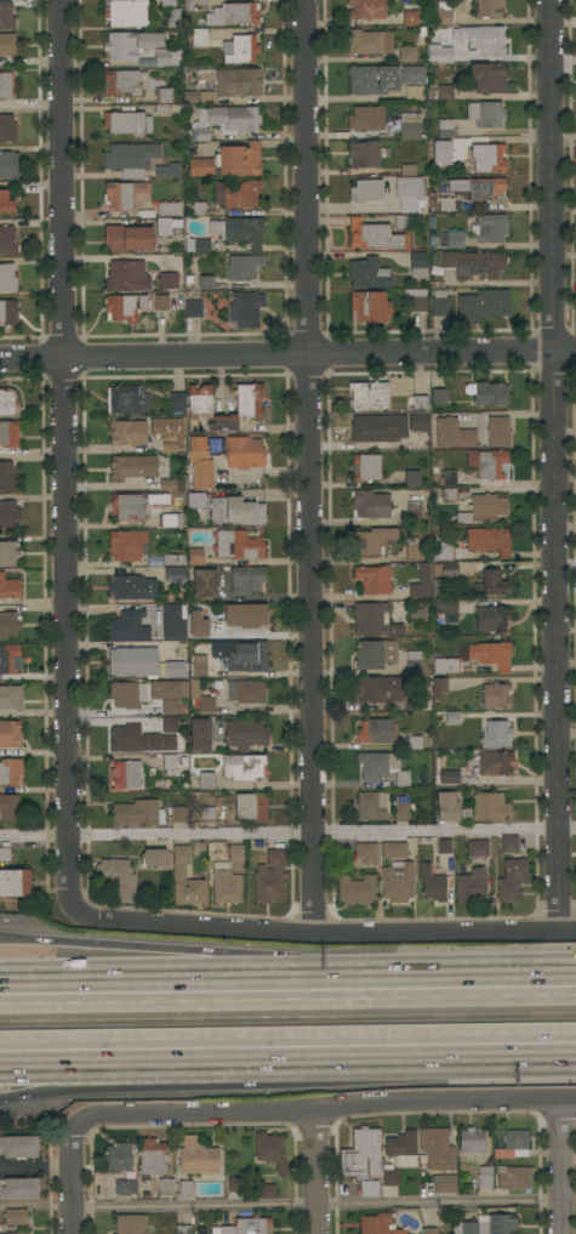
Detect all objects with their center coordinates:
building: (167, 2)
building: (193, 4)
building: (489, 7)
building: (366, 8)
building: (445, 12)
building: (127, 13)
building: (235, 13)
building: (6, 16)
building: (173, 17)
building: (410, 17)
road: (564, 21)
building: (199, 38)
building: (483, 38)
building: (370, 41)
building: (7, 44)
building: (131, 44)
building: (240, 49)
building: (406, 53)
building: (440, 53)
building: (162, 57)
road: (564, 68)
building: (489, 78)
building: (387, 80)
building: (125, 81)
building: (233, 84)
building: (6, 85)
building: (162, 91)
building: (443, 92)
building: (190, 97)
building: (486, 113)
building: (232, 118)
building: (366, 118)
building: (127, 123)
building: (410, 126)
building: (7, 127)
building: (445, 127)
building: (201, 133)
building: (441, 152)
building: (366, 153)
building: (486, 158)
building: (130, 159)
building: (239, 159)
building: (7, 165)
building: (201, 166)
building: (169, 170)
building: (407, 170)
building: (477, 188)
building: (366, 190)
building: (409, 192)
building: (122, 194)
building: (238, 194)
building: (6, 203)
building: (446, 204)
road: (360, 206)
building: (169, 209)
building: (200, 209)
building: (401, 222)
building: (166, 226)
building: (490, 227)
building: (239, 231)
building: (373, 234)
building: (127, 237)
building: (455, 238)
building: (7, 240)
building: (196, 244)
building: (473, 262)
building: (418, 265)
building: (243, 267)
building: (369, 273)
building: (127, 275)
building: (7, 278)
building: (167, 280)
building: (206, 282)
building: (417, 298)
building: (161, 302)
building: (440, 303)
building: (481, 305)
building: (124, 306)
building: (371, 306)
building: (193, 308)
building: (245, 308)
building: (8, 312)
road: (287, 354)
building: (486, 393)
building: (367, 396)
building: (439, 396)
building: (126, 399)
building: (200, 399)
building: (7, 402)
building: (177, 402)
building: (417, 403)
building: (240, 408)
road: (508, 414)
building: (416, 421)
building: (371, 428)
road: (565, 430)
building: (498, 431)
building: (129, 432)
building: (8, 433)
building: (454, 433)
building: (411, 442)
building: (169, 444)
road: (63, 448)
building: (244, 453)
building: (200, 462)
building: (491, 464)
building: (132, 466)
road: (309, 467)
building: (366, 467)
road: (554, 467)
building: (8, 477)
building: (449, 477)
building: (412, 478)
building: (171, 484)
building: (449, 495)
building: (195, 501)
building: (369, 504)
building: (138, 505)
building: (484, 508)
building: (236, 510)
building: (8, 513)
building: (414, 517)
building: (170, 521)
road: (565, 525)
building: (373, 540)
building: (489, 540)
building: (127, 544)
building: (238, 545)
building: (414, 550)
building: (443, 551)
building: (7, 553)
building: (195, 556)
building: (172, 559)
building: (445, 569)
building: (175, 574)
building: (246, 579)
building: (373, 579)
building: (204, 582)
building: (423, 582)
building: (492, 584)
building: (8, 586)
building: (131, 586)
building: (450, 605)
building: (416, 613)
building: (245, 615)
building: (492, 618)
building: (375, 619)
building: (172, 622)
building: (8, 624)
building: (129, 625)
building: (198, 625)
building: (491, 654)
building: (241, 655)
building: (370, 655)
building: (8, 659)
building: (133, 661)
building: (414, 661)
building: (446, 665)
building: (199, 666)
building: (175, 669)
building: (422, 682)
building: (193, 687)
building: (439, 687)
building: (381, 689)
building: (245, 690)
building: (126, 694)
building: (169, 695)
building: (496, 695)
building: (11, 696)
building: (206, 704)
building: (424, 704)
building: (452, 717)
building: (171, 724)
building: (377, 730)
building: (496, 733)
building: (10, 734)
building: (200, 734)
building: (245, 734)
building: (131, 739)
building: (415, 743)
building: (170, 762)
building: (495, 763)
building: (243, 767)
building: (382, 767)
building: (10, 770)
building: (126, 774)
building: (450, 777)
building: (206, 780)
building: (381, 806)
building: (251, 807)
building: (447, 807)
building: (490, 807)
building: (10, 808)
building: (137, 813)
building: (206, 813)
building: (175, 814)
road: (30, 835)
road: (318, 835)
building: (509, 843)
building: (444, 846)
building: (477, 848)
building: (393, 849)
building: (366, 852)
building: (5, 853)
building: (155, 857)
building: (236, 857)
building: (219, 864)
building: (179, 870)
building: (119, 877)
building: (269, 877)
building: (512, 880)
building: (15, 882)
building: (398, 882)
building: (430, 883)
building: (471, 885)
building: (226, 886)
building: (357, 888)
road: (315, 937)
road: (10, 938)
road: (10, 940)
road: (203, 950)
road: (480, 974)
road: (192, 977)
road: (287, 997)
railway: (287, 1017)
road: (287, 1034)
road: (469, 1058)
road: (182, 1063)
road: (181, 1077)
road: (2, 1098)
road: (327, 1110)
building: (514, 1139)
building: (472, 1141)
building: (18, 1147)
building: (401, 1147)
building: (437, 1149)
building: (270, 1150)
building: (361, 1153)
building: (518, 1153)
building: (502, 1154)
building: (119, 1156)
building: (196, 1158)
building: (152, 1159)
road: (563, 1166)
road: (316, 1172)
building: (389, 1175)
building: (129, 1176)
building: (484, 1176)
building: (513, 1177)
road: (74, 1178)
building: (444, 1183)
building: (165, 1185)
building: (18, 1188)
building: (125, 1188)
building: (184, 1188)
building: (369, 1188)
building: (267, 1190)
building: (144, 1196)
road: (325, 1205)
building: (16, 1216)
building: (131, 1223)
building: (378, 1224)
building: (487, 1224)
building: (246, 1226)
building: (183, 1229)
building: (428, 1230)
building: (18, 1233)

